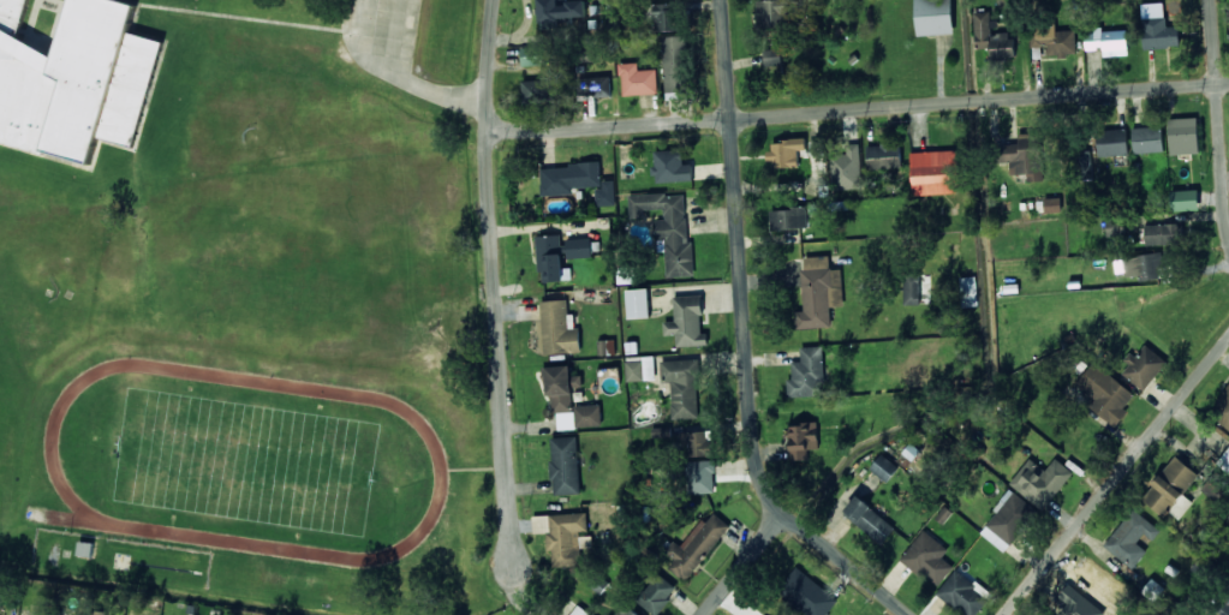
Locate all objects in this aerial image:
building: (560, 12)
building: (772, 12)
building: (666, 16)
building: (933, 17)
building: (1158, 26)
building: (992, 36)
building: (1054, 40)
building: (1106, 40)
building: (532, 55)
building: (772, 58)
building: (675, 64)
building: (74, 79)
building: (637, 79)
building: (593, 86)
building: (536, 91)
road: (858, 107)
road: (1218, 118)
building: (1183, 136)
building: (1147, 139)
building: (1112, 142)
building: (817, 147)
building: (784, 153)
building: (883, 156)
building: (1024, 156)
building: (817, 162)
building: (1082, 165)
building: (672, 166)
building: (847, 168)
building: (935, 172)
building: (578, 181)
building: (1185, 199)
building: (1052, 204)
building: (788, 217)
building: (668, 227)
building: (1115, 227)
building: (1163, 233)
building: (579, 247)
building: (551, 258)
building: (1144, 265)
road: (497, 282)
building: (912, 289)
building: (968, 291)
building: (819, 292)
building: (638, 303)
building: (687, 322)
building: (556, 329)
road: (742, 341)
building: (605, 347)
building: (1144, 368)
building: (639, 369)
building: (807, 374)
building: (682, 386)
building: (1105, 393)
building: (569, 400)
building: (1222, 408)
building: (803, 440)
building: (698, 443)
building: (909, 453)
park: (249, 460)
track: (250, 460)
building: (1224, 461)
building: (565, 464)
building: (884, 467)
road: (1115, 474)
building: (700, 476)
building: (1040, 480)
building: (1171, 489)
building: (869, 519)
building: (1008, 519)
building: (562, 536)
building: (1132, 538)
building: (696, 545)
building: (85, 549)
building: (927, 557)
road: (745, 563)
building: (963, 592)
building: (657, 593)
building: (806, 593)
building: (1223, 608)
building: (627, 610)
building: (578, 611)

